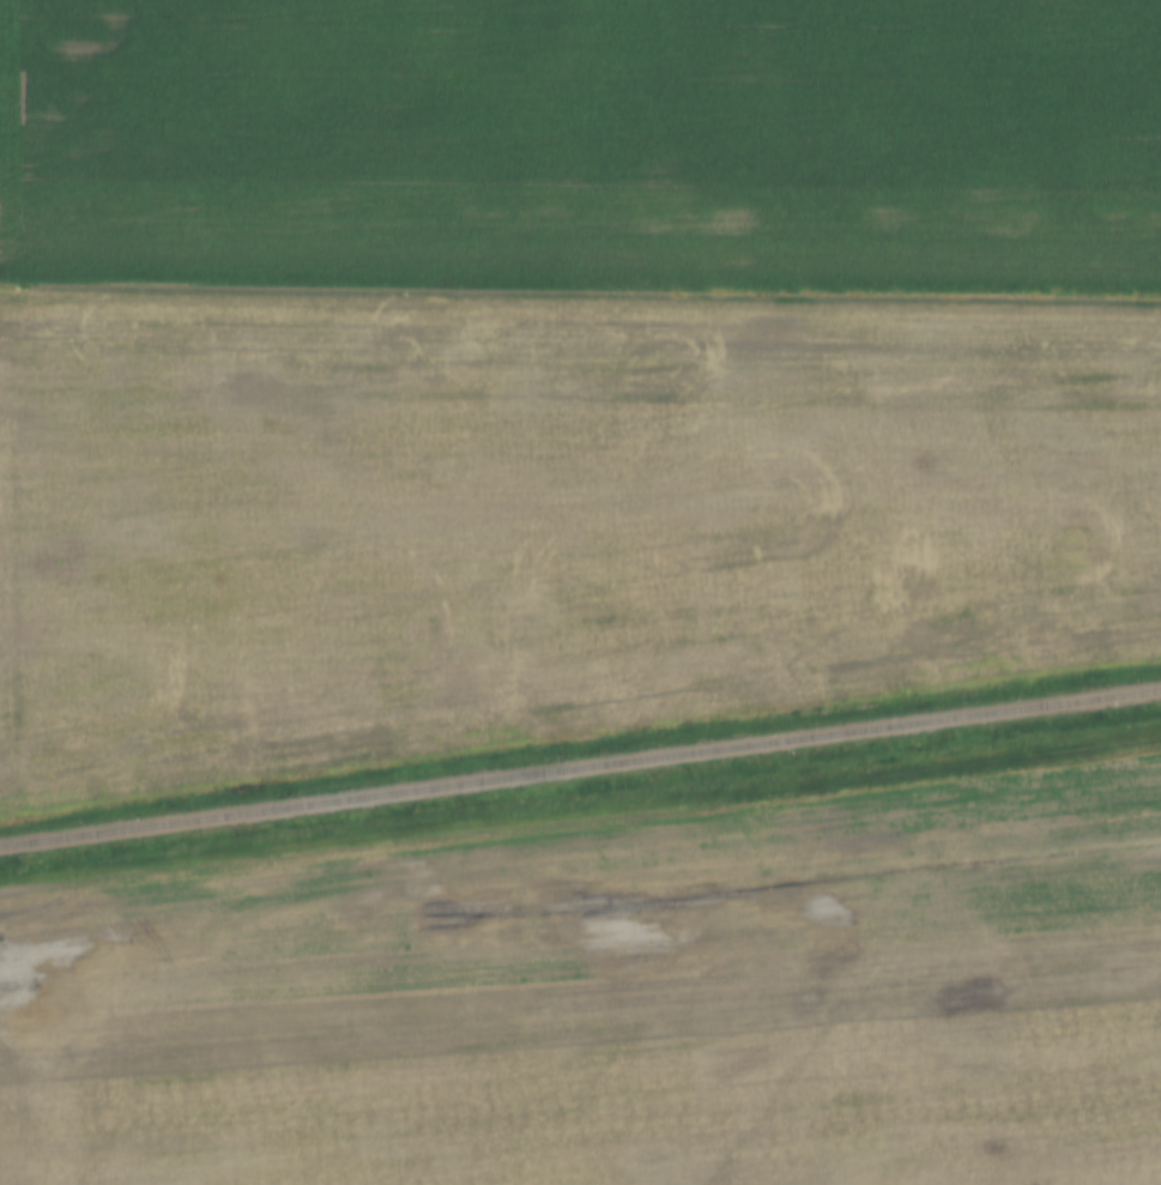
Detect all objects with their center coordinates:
railway: (580, 769)
road: (580, 826)

